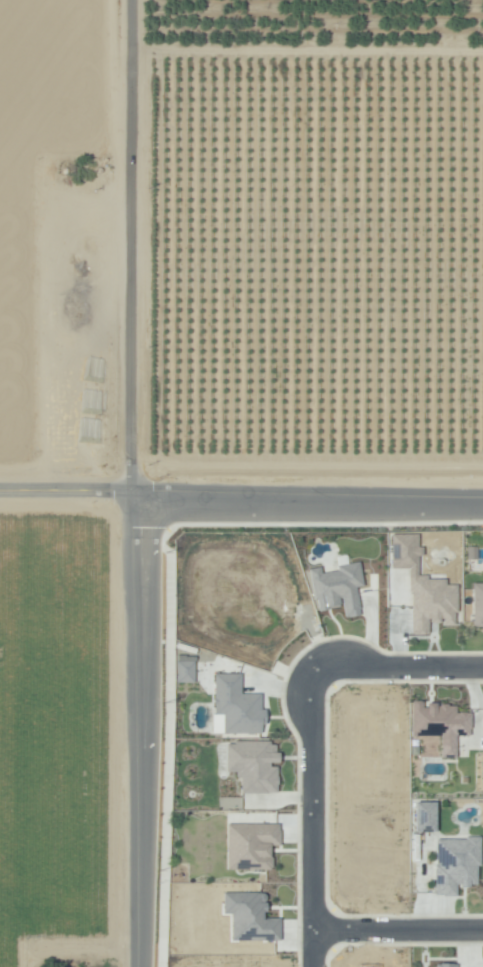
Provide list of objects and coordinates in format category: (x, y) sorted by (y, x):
crop: (316, 235)
crop: (59, 238)
road: (132, 244)
road: (241, 489)
building: (336, 586)
building: (421, 587)
building: (476, 605)
building: (183, 670)
road: (397, 673)
building: (234, 706)
building: (438, 724)
road: (131, 728)
crop: (57, 738)
building: (252, 765)
building: (423, 816)
road: (311, 820)
building: (250, 845)
building: (454, 863)
building: (248, 916)
road: (397, 936)
building: (444, 965)

